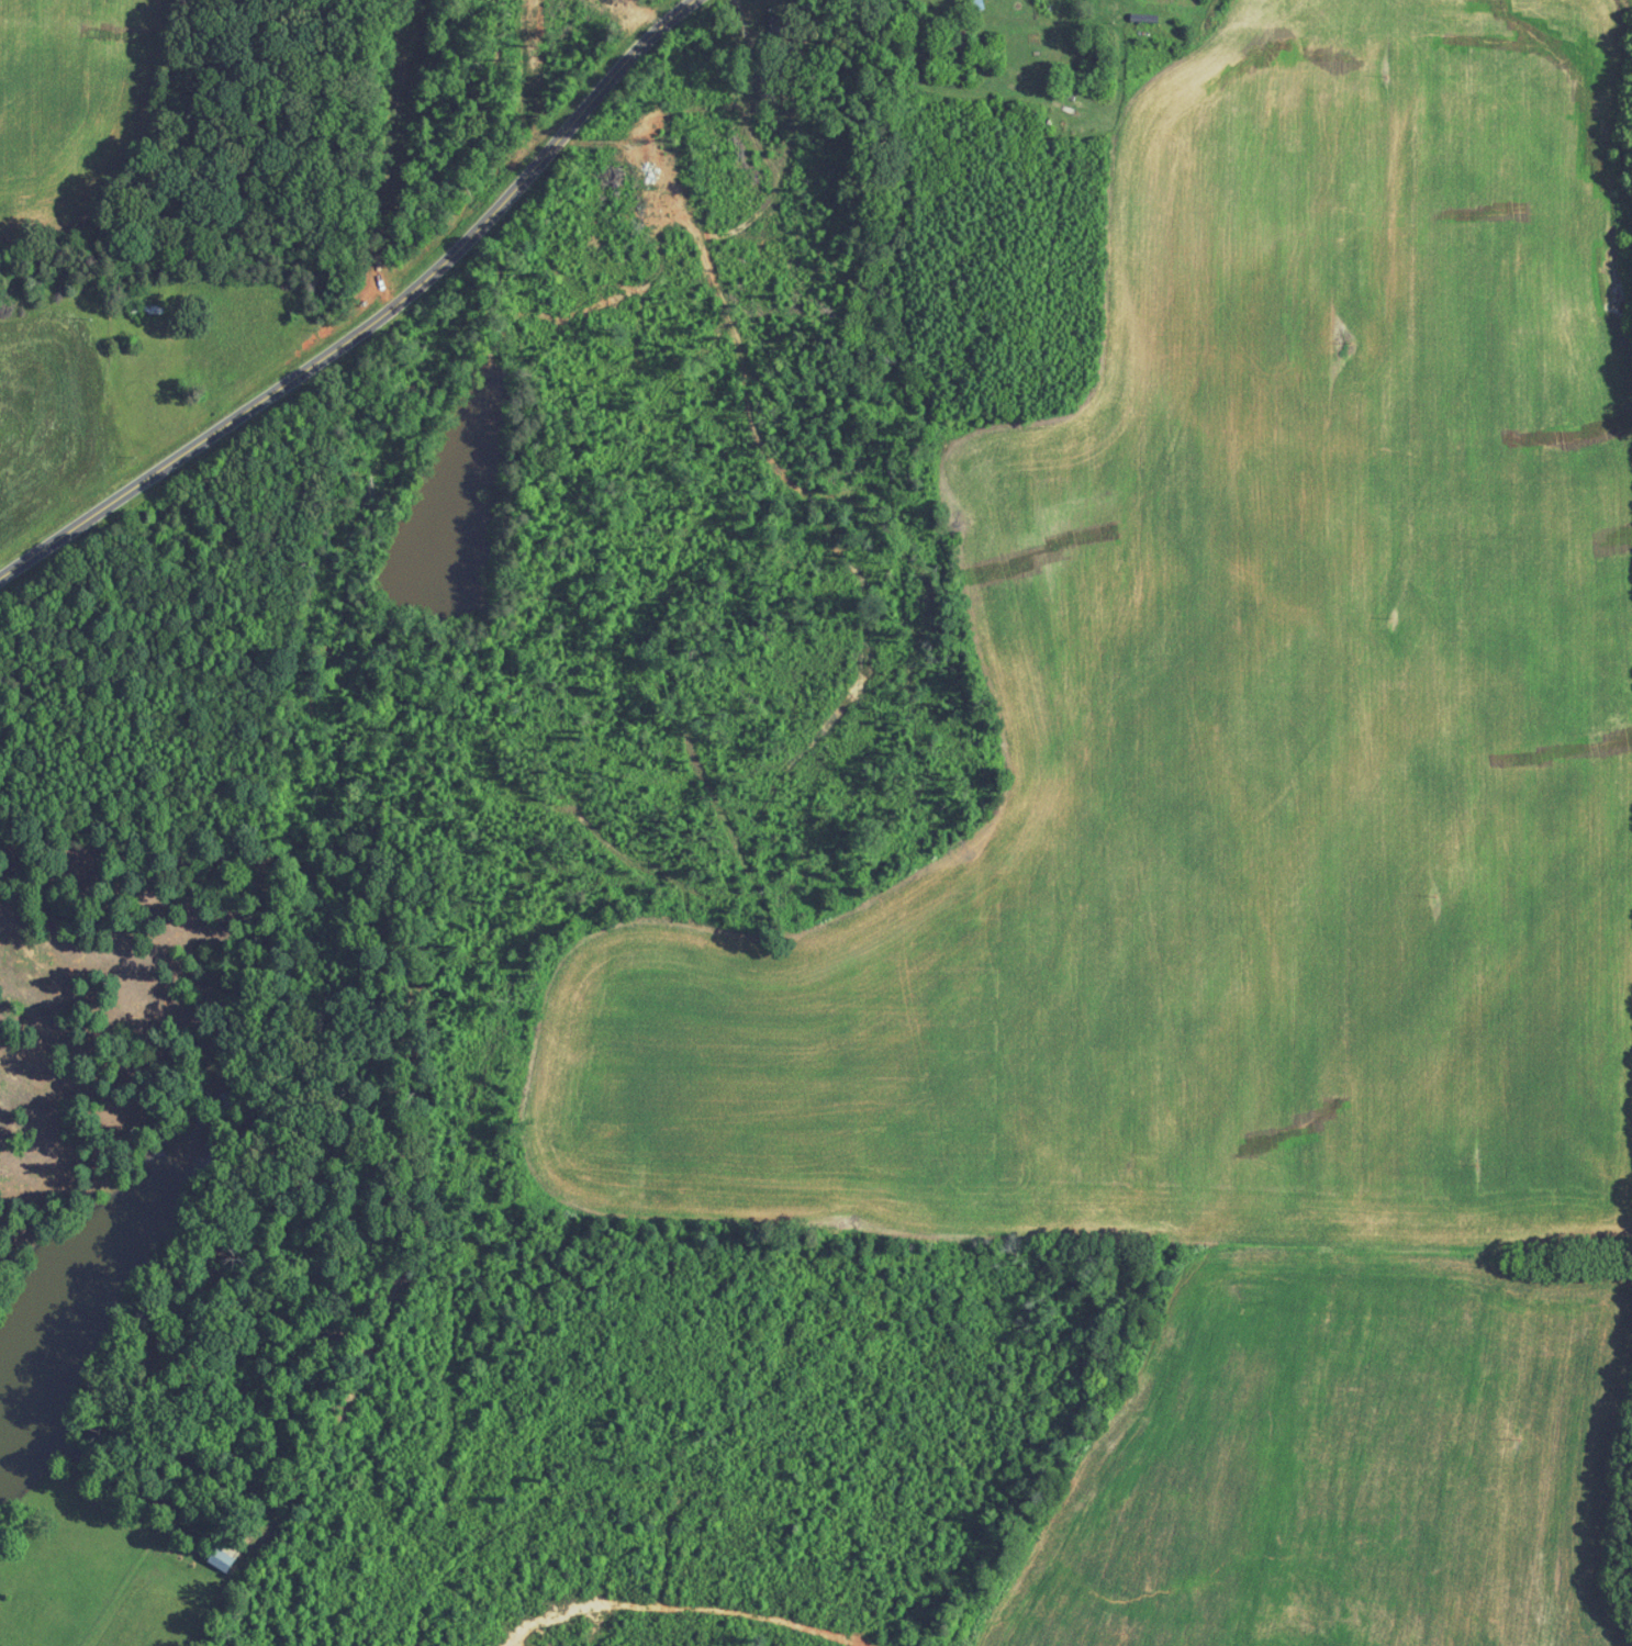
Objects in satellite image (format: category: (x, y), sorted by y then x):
road: (375, 322)

